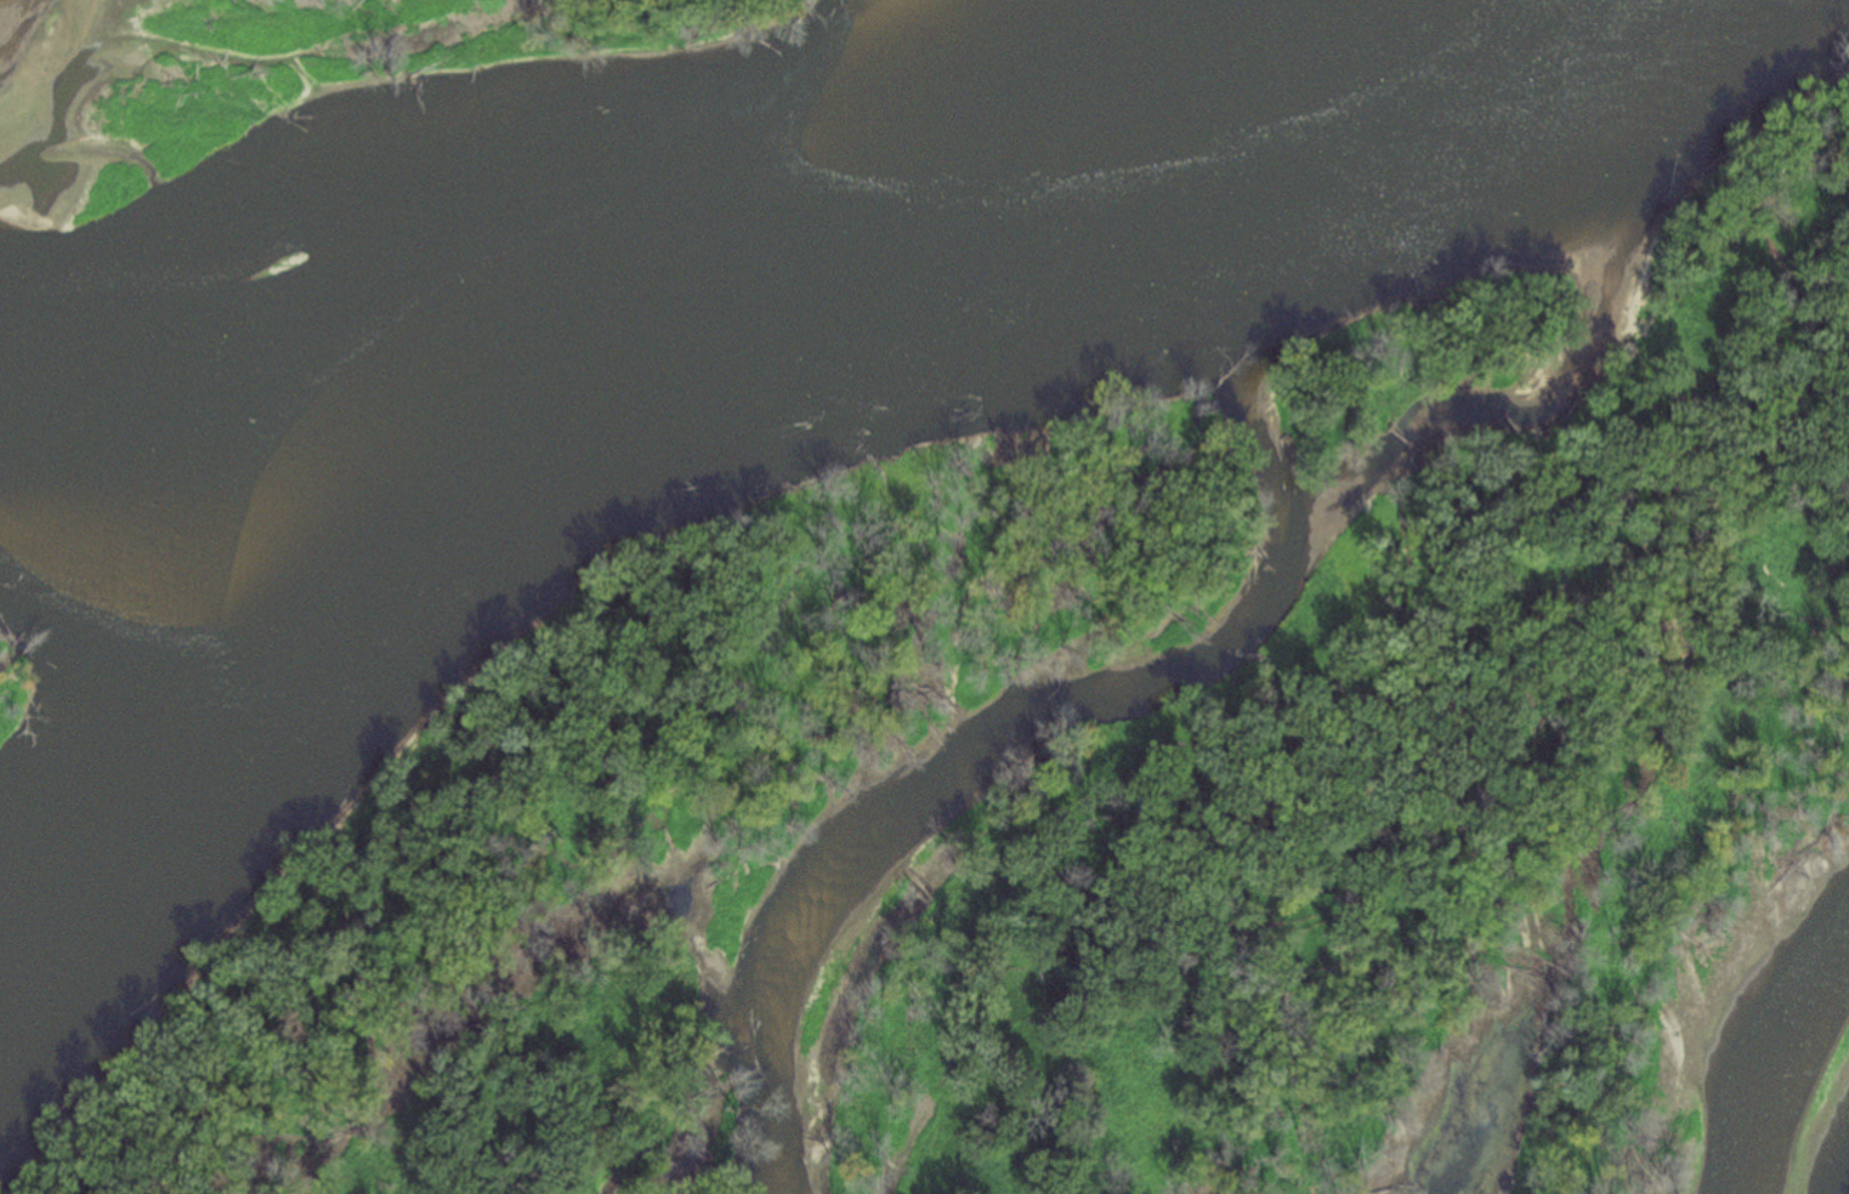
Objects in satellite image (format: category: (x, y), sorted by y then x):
river: (640, 447)

